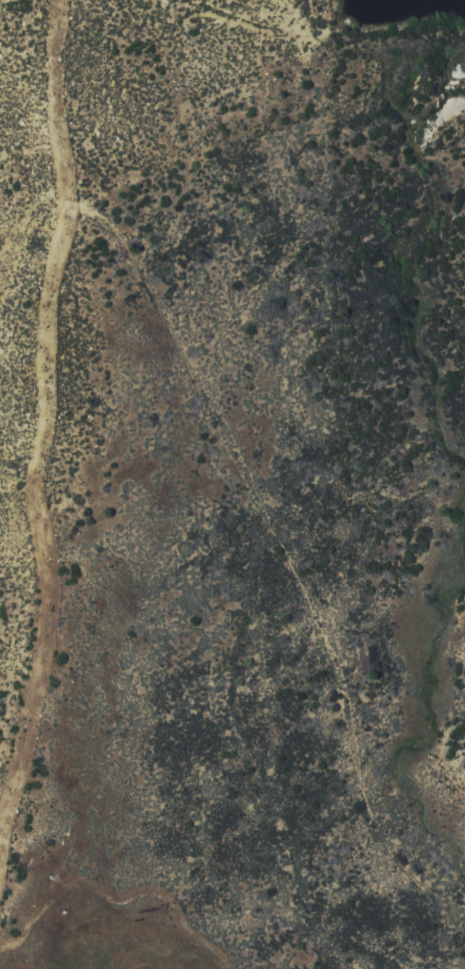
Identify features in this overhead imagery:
road: (50, 96)
road: (273, 551)

